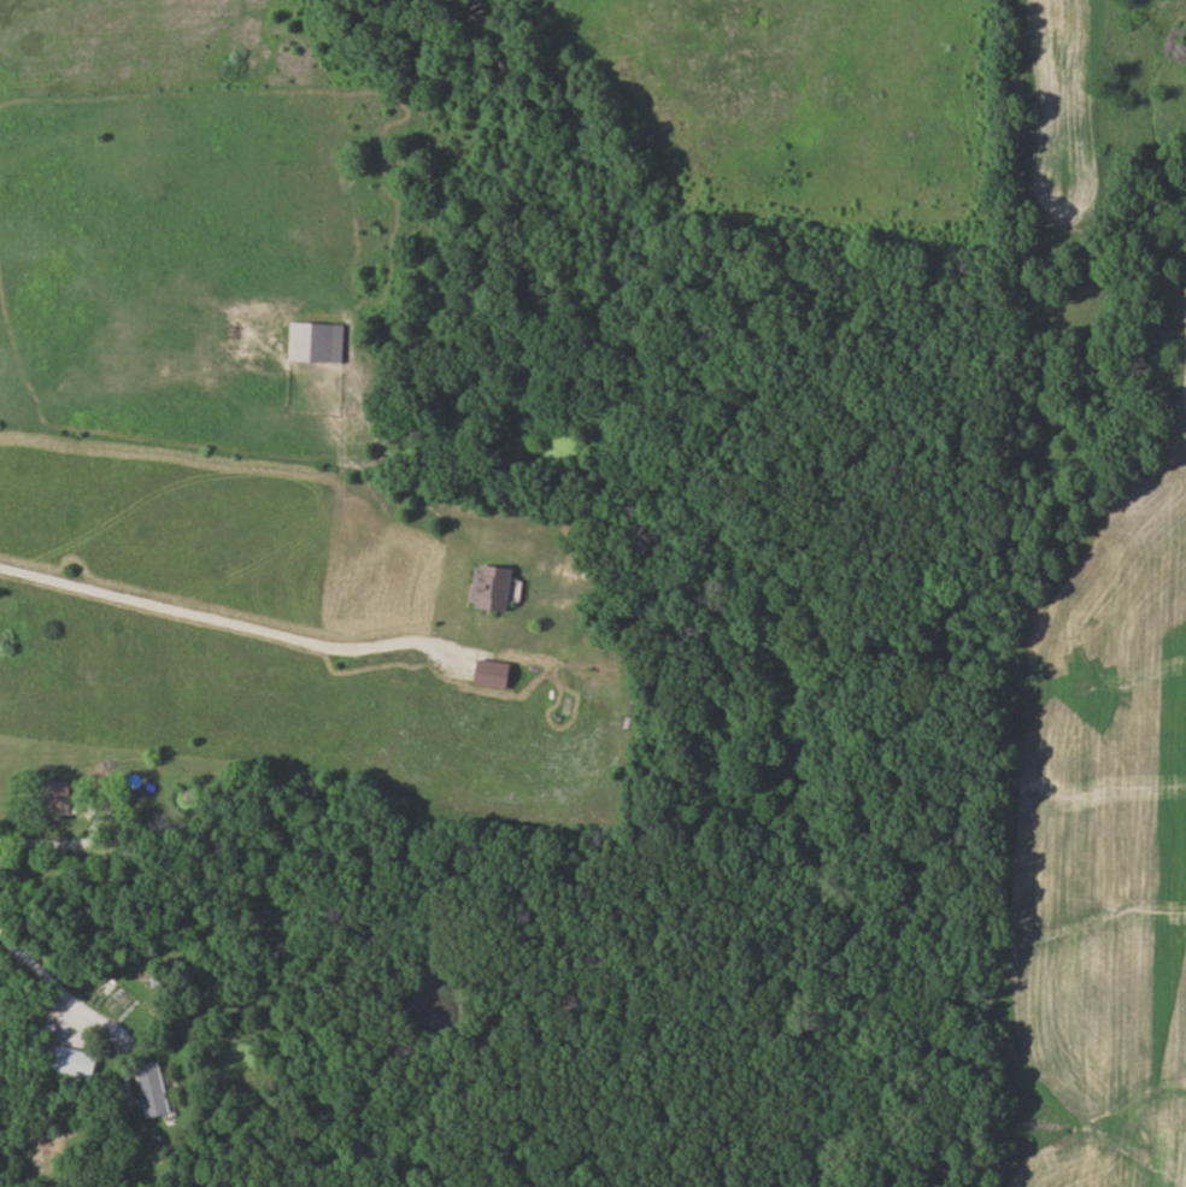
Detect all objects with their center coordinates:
building: (317, 340)
building: (494, 586)
road: (224, 617)
building: (63, 797)
road: (54, 981)
building: (75, 1060)
building: (152, 1088)

